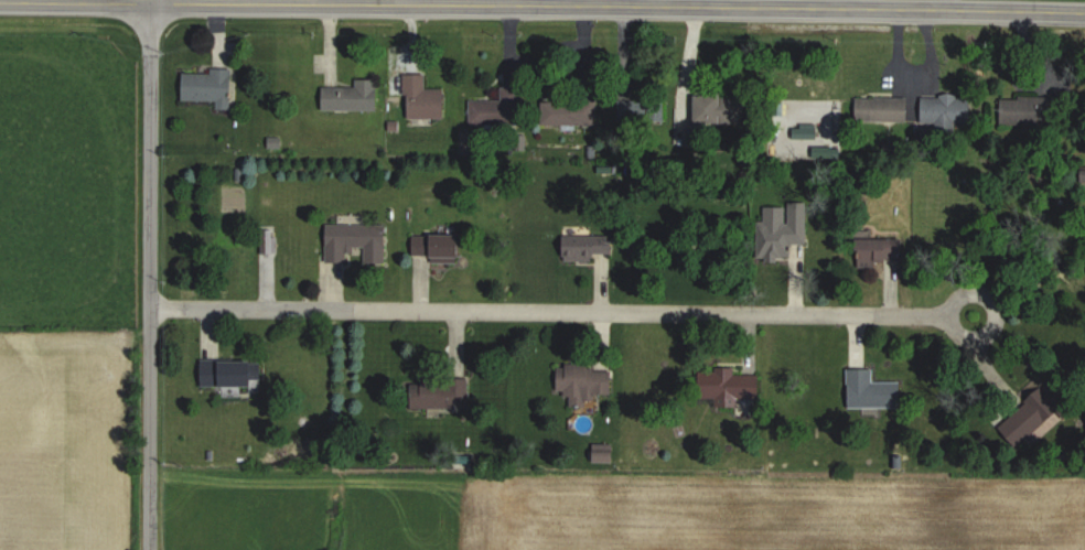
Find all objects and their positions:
road: (542, 4)
building: (212, 89)
building: (355, 98)
building: (427, 99)
building: (501, 110)
building: (643, 111)
building: (723, 111)
building: (883, 111)
building: (1028, 111)
building: (948, 112)
building: (574, 115)
building: (784, 231)
building: (358, 244)
building: (590, 248)
building: (442, 249)
building: (883, 252)
road: (149, 274)
road: (559, 311)
building: (230, 375)
building: (586, 385)
building: (733, 387)
building: (873, 392)
building: (448, 396)
building: (1040, 417)

